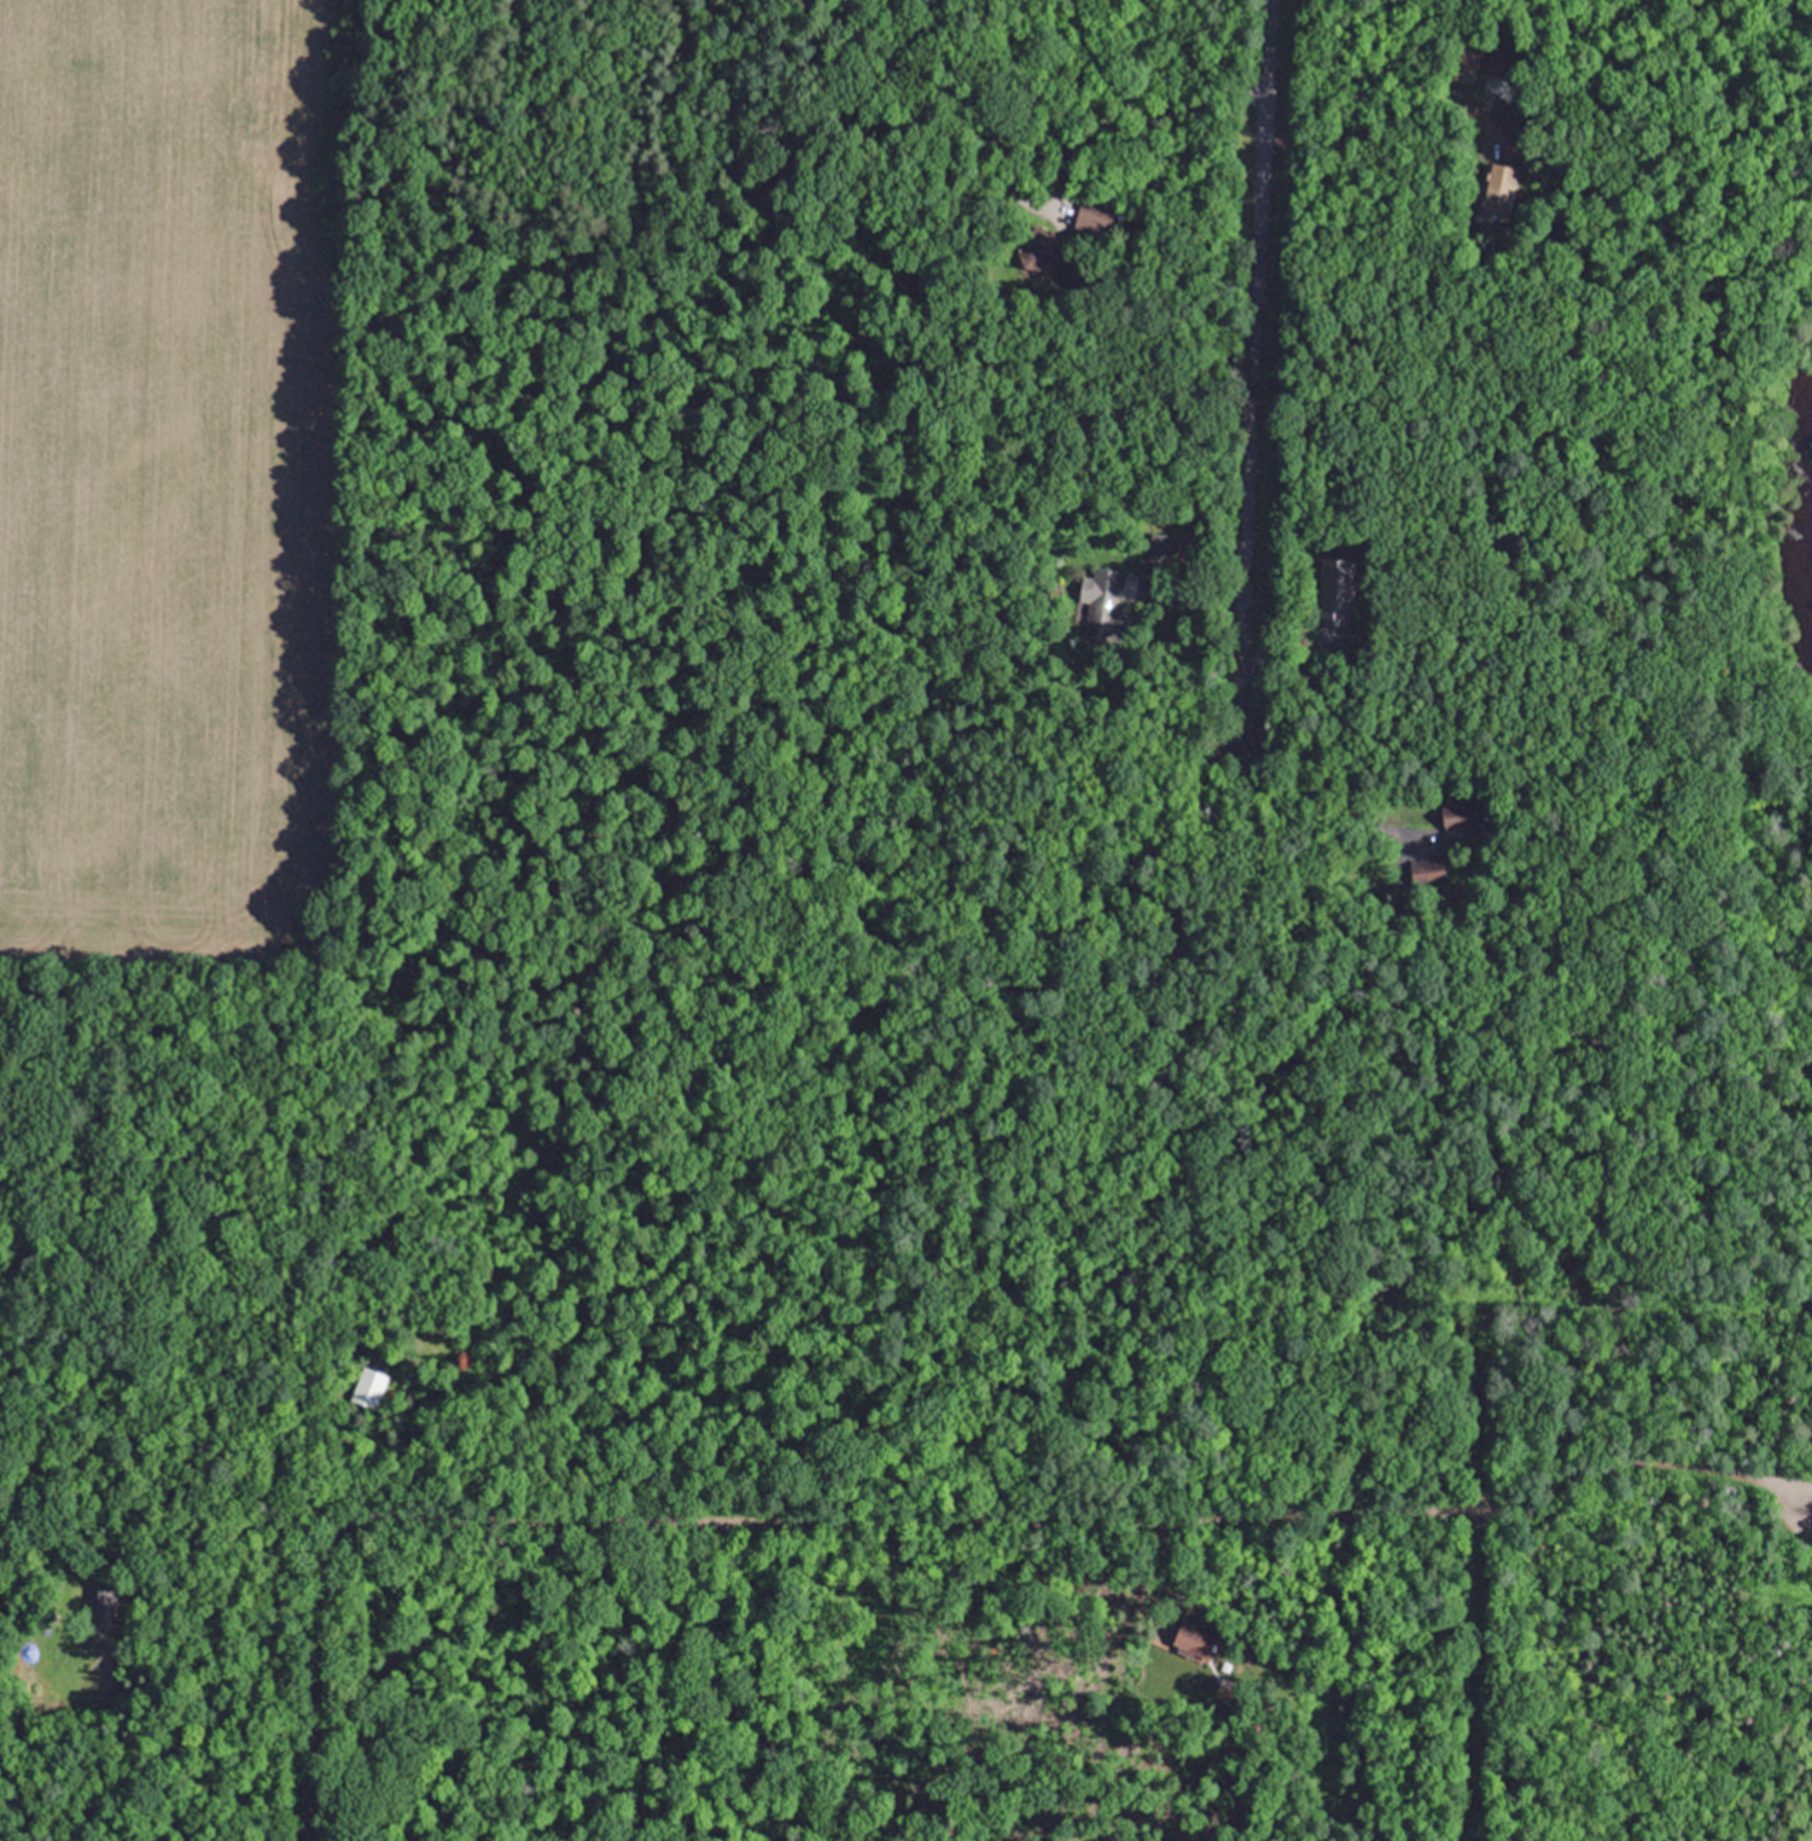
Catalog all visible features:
road: (1152, 123)
road: (1357, 132)
building: (1501, 173)
building: (1084, 214)
building: (1031, 251)
road: (1253, 368)
building: (1101, 587)
building: (1332, 592)
road: (1305, 800)
building: (1452, 814)
building: (366, 1387)
road: (924, 1517)
building: (1194, 1638)

